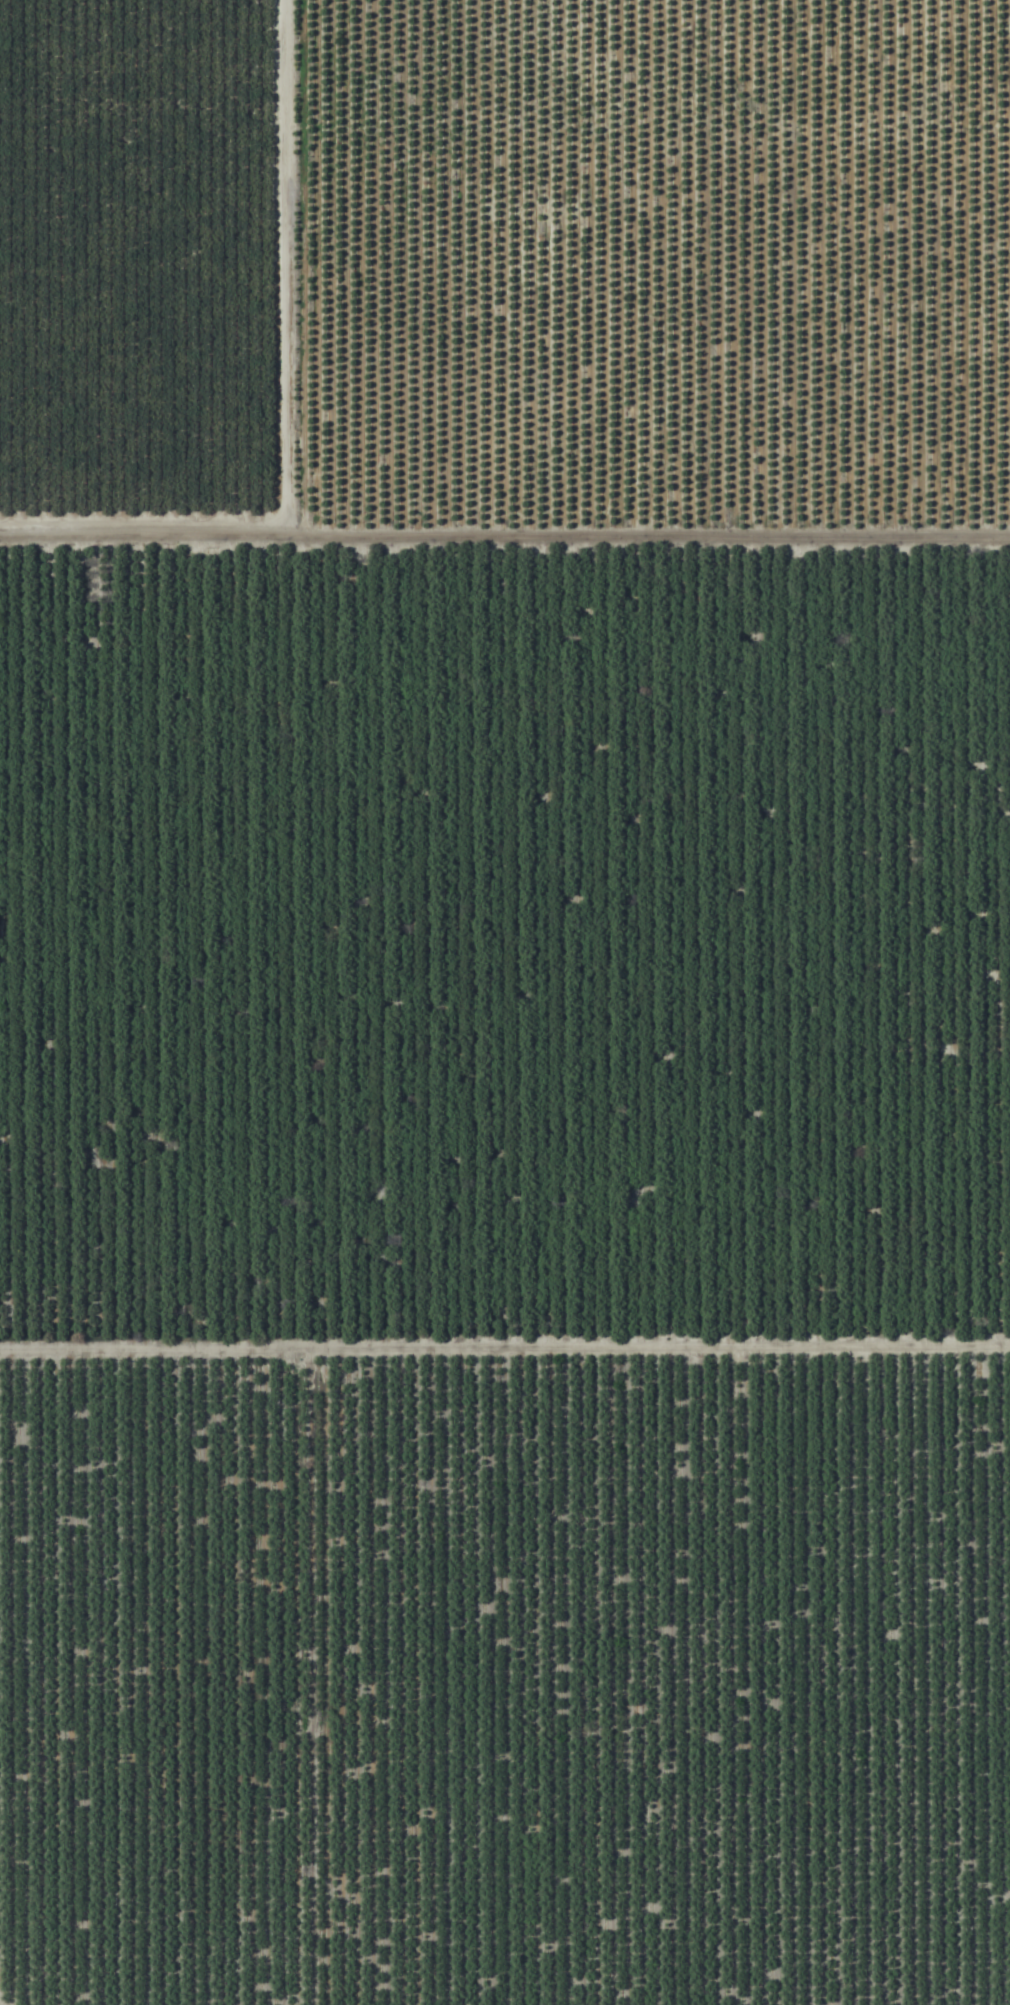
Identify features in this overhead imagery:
road: (505, 559)
crop: (505, 1002)

